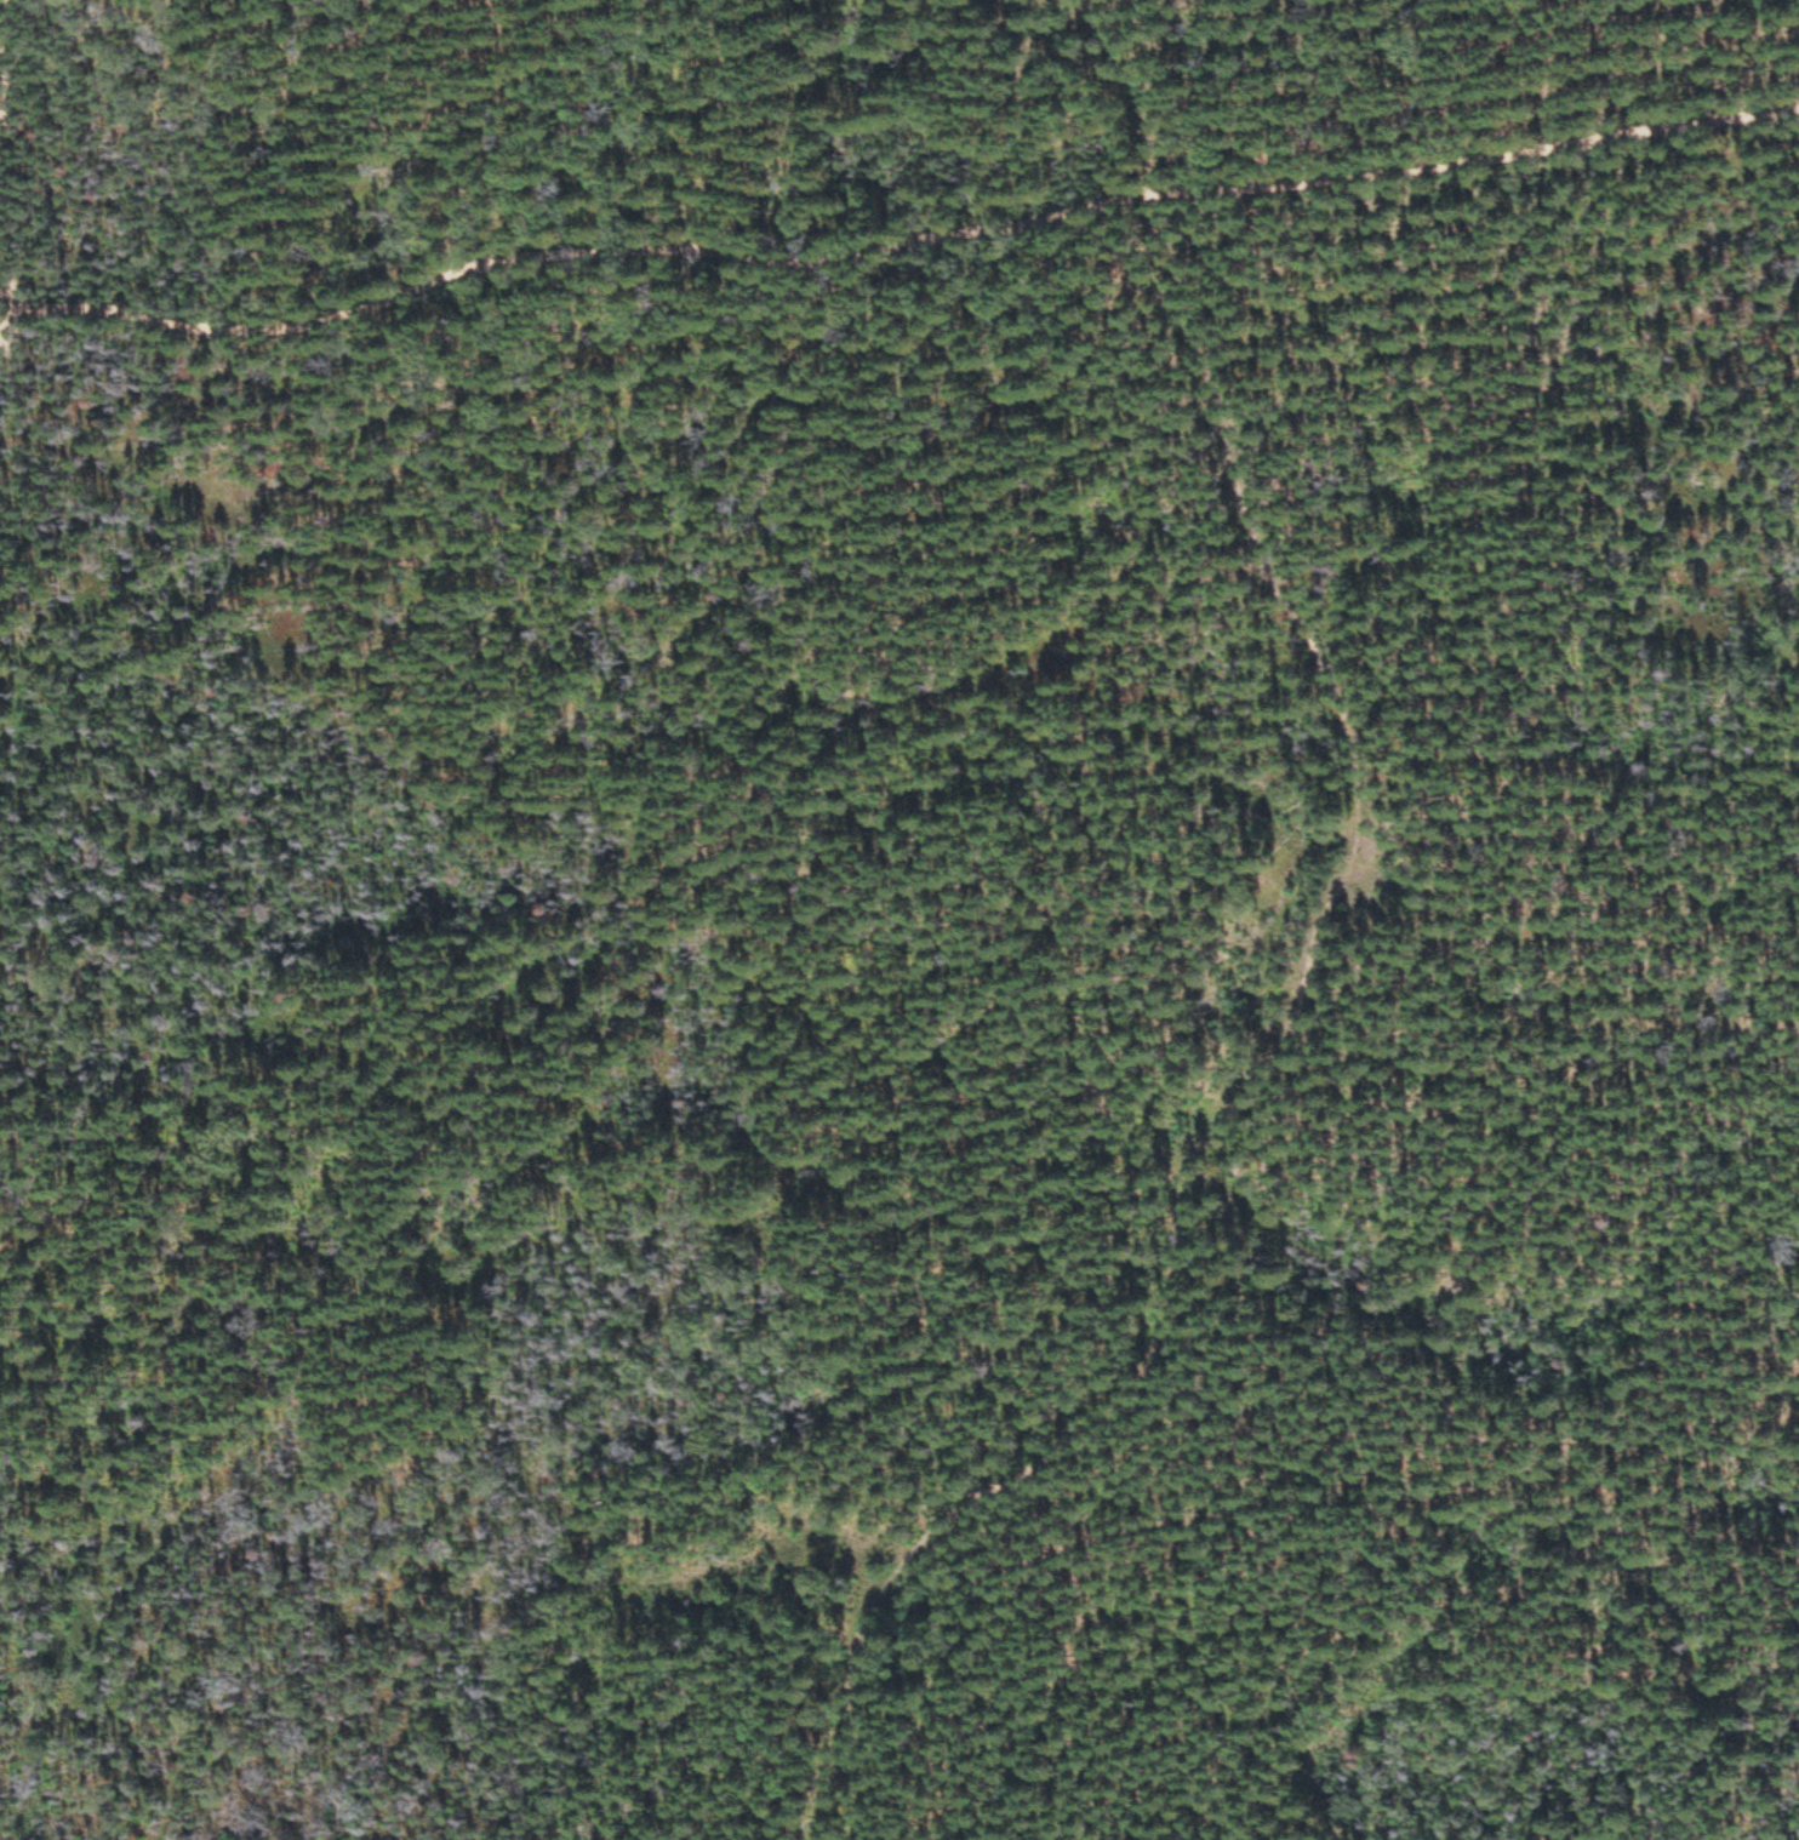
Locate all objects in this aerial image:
road: (8, 64)
road: (889, 257)
road: (18, 276)
road: (1183, 1212)

